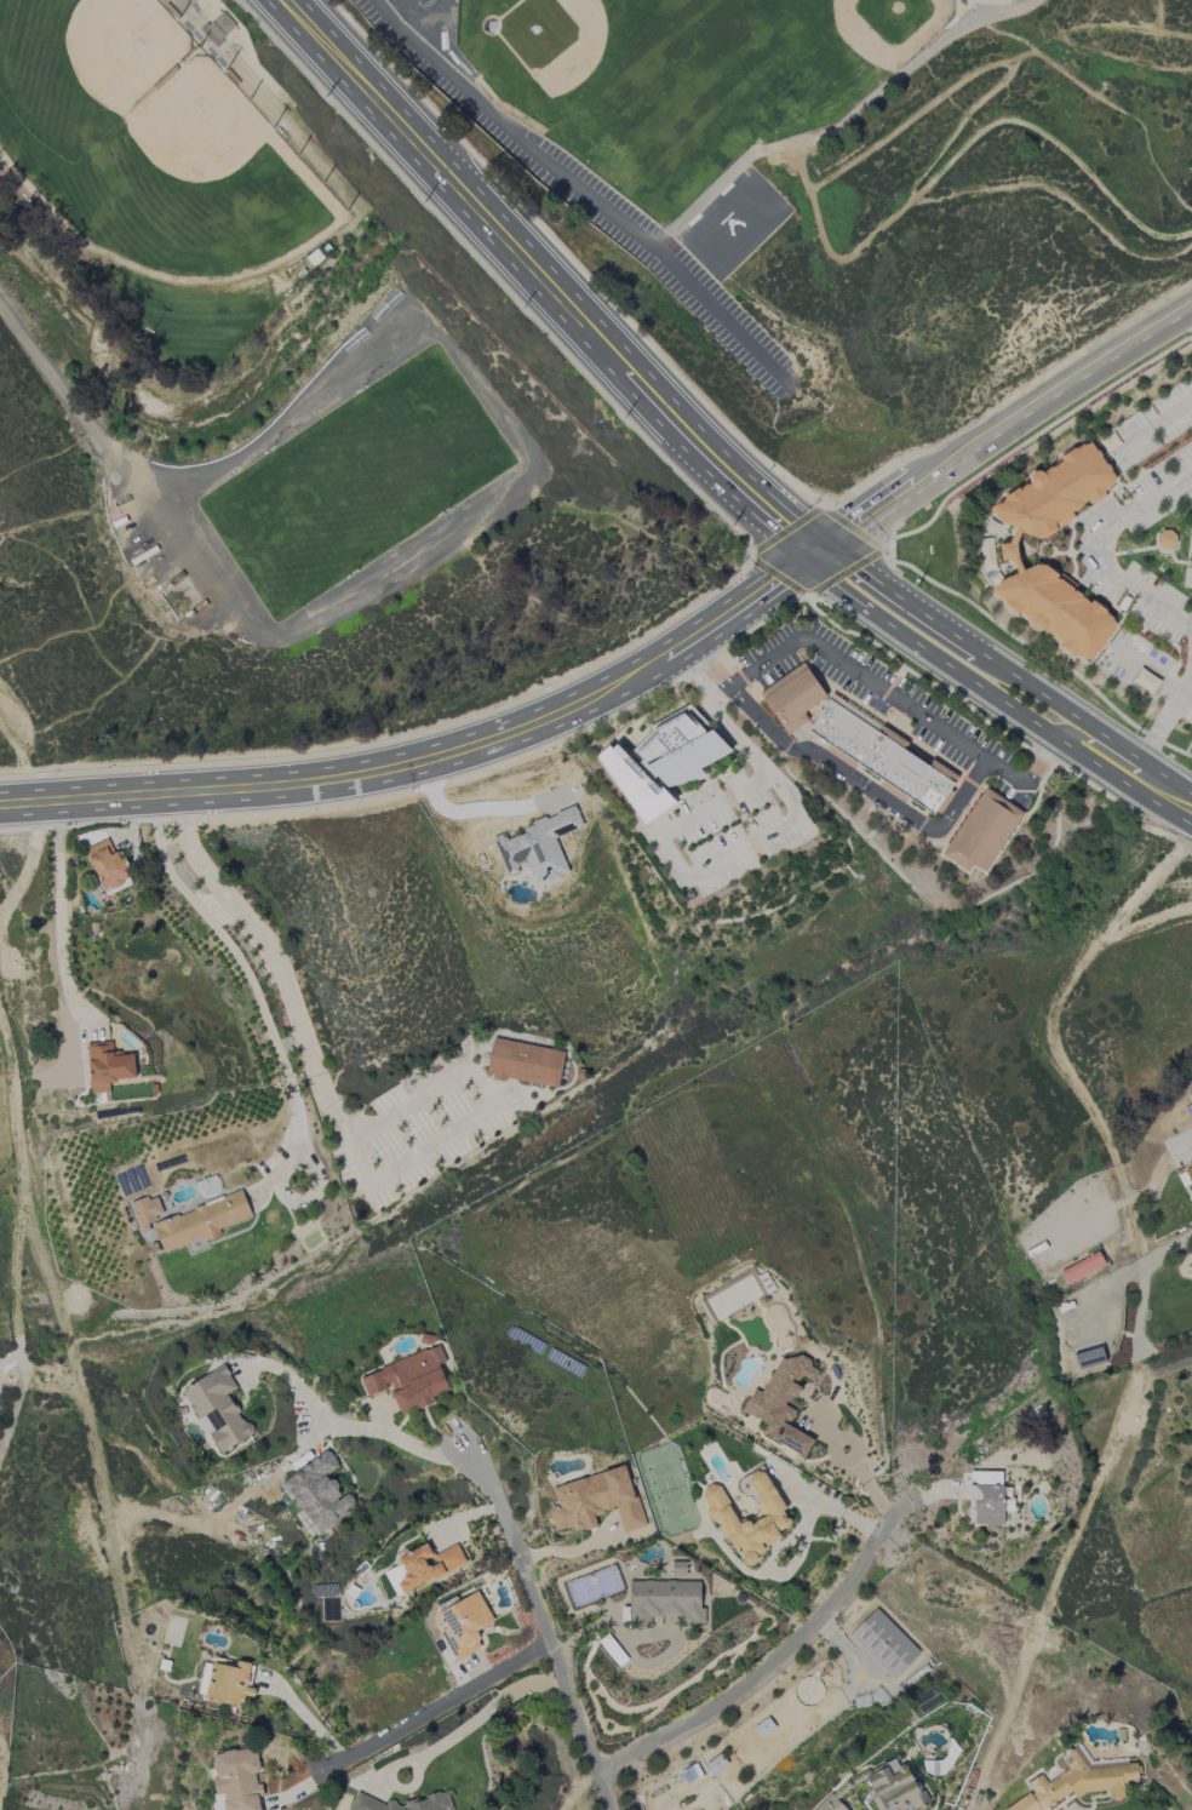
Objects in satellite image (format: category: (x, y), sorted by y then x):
road: (174, 19)
building: (219, 29)
building: (211, 36)
road: (227, 57)
park: (75, 78)
building: (165, 79)
road: (131, 110)
road: (271, 131)
park: (194, 189)
road: (579, 189)
road: (785, 201)
road: (348, 223)
road: (562, 256)
road: (483, 274)
road: (161, 276)
road: (526, 288)
road: (565, 296)
road: (1191, 315)
park: (233, 326)
road: (33, 350)
road: (1060, 425)
road: (998, 436)
road: (124, 462)
park: (356, 483)
building: (1056, 496)
road: (836, 512)
road: (855, 529)
road: (786, 531)
building: (1015, 535)
building: (1168, 543)
traffic signals: (833, 548)
road: (1096, 550)
building: (1008, 551)
traffic signals: (807, 565)
building: (1016, 566)
road: (752, 572)
road: (900, 578)
road: (715, 594)
road: (827, 602)
building: (1055, 609)
road: (762, 626)
road: (1045, 657)
parking lot: (773, 659)
road: (703, 665)
road: (737, 674)
road: (1187, 675)
road: (677, 677)
road: (1025, 678)
road: (744, 680)
building: (1146, 681)
building: (784, 682)
road: (932, 685)
road: (889, 689)
road: (675, 691)
road: (761, 697)
road: (996, 700)
building: (795, 701)
road: (899, 701)
building: (821, 704)
road: (676, 709)
building: (854, 714)
parking lot: (921, 716)
building: (666, 717)
building: (694, 717)
road: (1159, 724)
road: (809, 728)
road: (19, 729)
building: (841, 731)
building: (890, 737)
building: (666, 738)
building: (641, 741)
road: (503, 749)
road: (425, 750)
road: (747, 751)
building: (909, 751)
road: (342, 752)
road: (16, 755)
building: (841, 756)
building: (625, 760)
building: (686, 760)
building: (922, 760)
building: (907, 762)
building: (638, 763)
road: (641, 763)
road: (1122, 766)
road: (1062, 767)
road: (842, 769)
building: (941, 771)
building: (901, 774)
road: (965, 778)
road: (720, 779)
road: (451, 781)
road: (970, 783)
building: (648, 784)
building: (946, 784)
building: (632, 787)
building: (890, 791)
road: (151, 795)
road: (1108, 798)
road: (55, 802)
building: (941, 802)
road: (1037, 802)
road: (480, 809)
road: (103, 811)
road: (738, 811)
road: (28, 815)
road: (205, 815)
road: (160, 818)
road: (183, 821)
road: (80, 825)
parking lot: (727, 830)
building: (980, 831)
road: (924, 841)
building: (538, 847)
road: (669, 861)
building: (108, 865)
road: (23, 867)
road: (61, 918)
road: (271, 953)
road: (250, 983)
building: (523, 1062)
building: (578, 1075)
road: (573, 1079)
road: (502, 1096)
road: (548, 1104)
road: (481, 1115)
parking lot: (418, 1133)
building: (1188, 1168)
road: (18, 1172)
building: (145, 1212)
building: (200, 1222)
building: (1082, 1267)
road: (74, 1342)
building: (1089, 1358)
road: (10, 1359)
building: (409, 1380)
road: (21, 1391)
building: (781, 1403)
building: (217, 1409)
road: (373, 1432)
road: (831, 1450)
road: (871, 1490)
building: (319, 1493)
building: (987, 1499)
building: (595, 1501)
road: (1089, 1513)
building: (722, 1514)
road: (110, 1542)
building: (665, 1600)
building: (464, 1625)
road: (541, 1628)
building: (883, 1644)
road: (769, 1665)
building: (229, 1683)
road: (436, 1707)
road: (478, 1716)
building: (236, 1780)
building: (1077, 1782)
building: (881, 1788)
building: (429, 1800)

